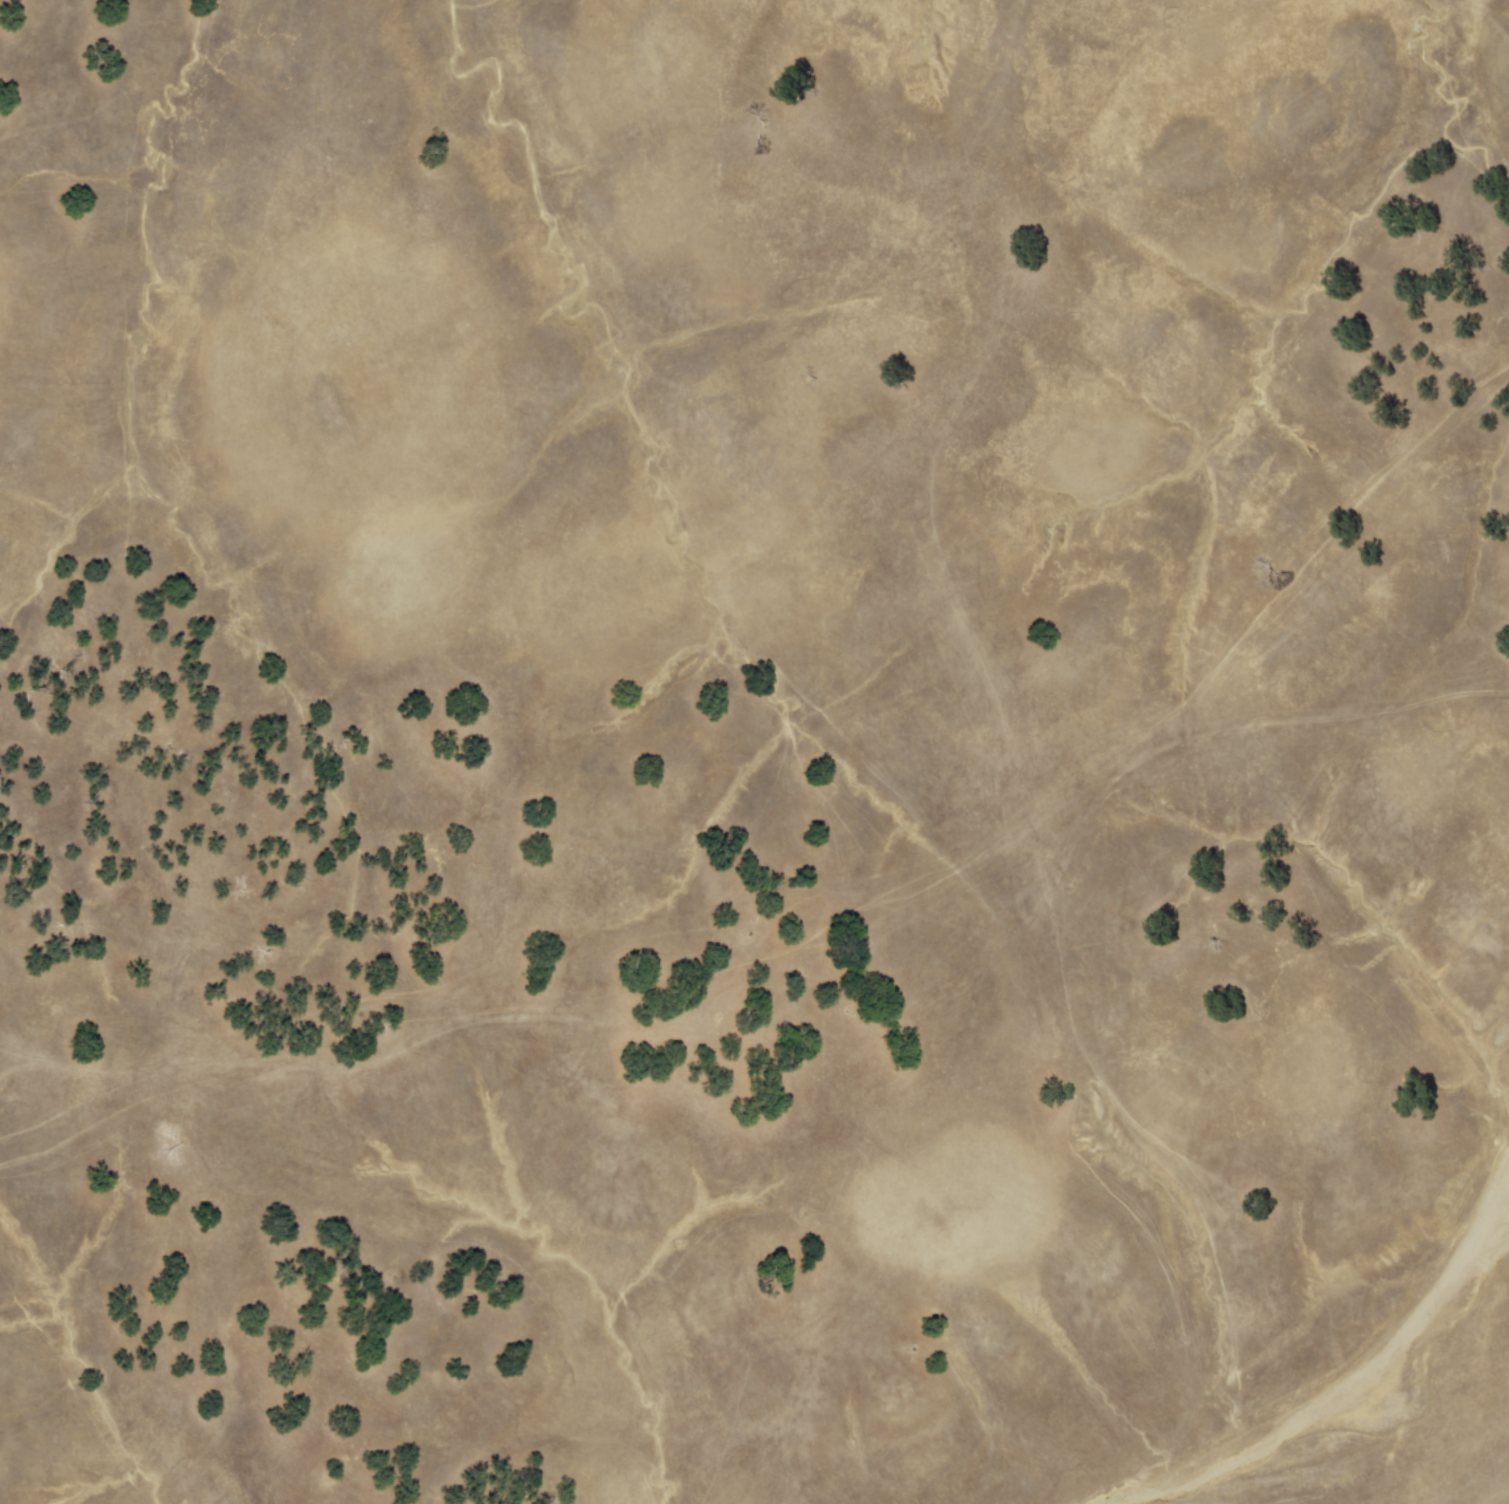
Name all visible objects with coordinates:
river: (1331, 1391)

